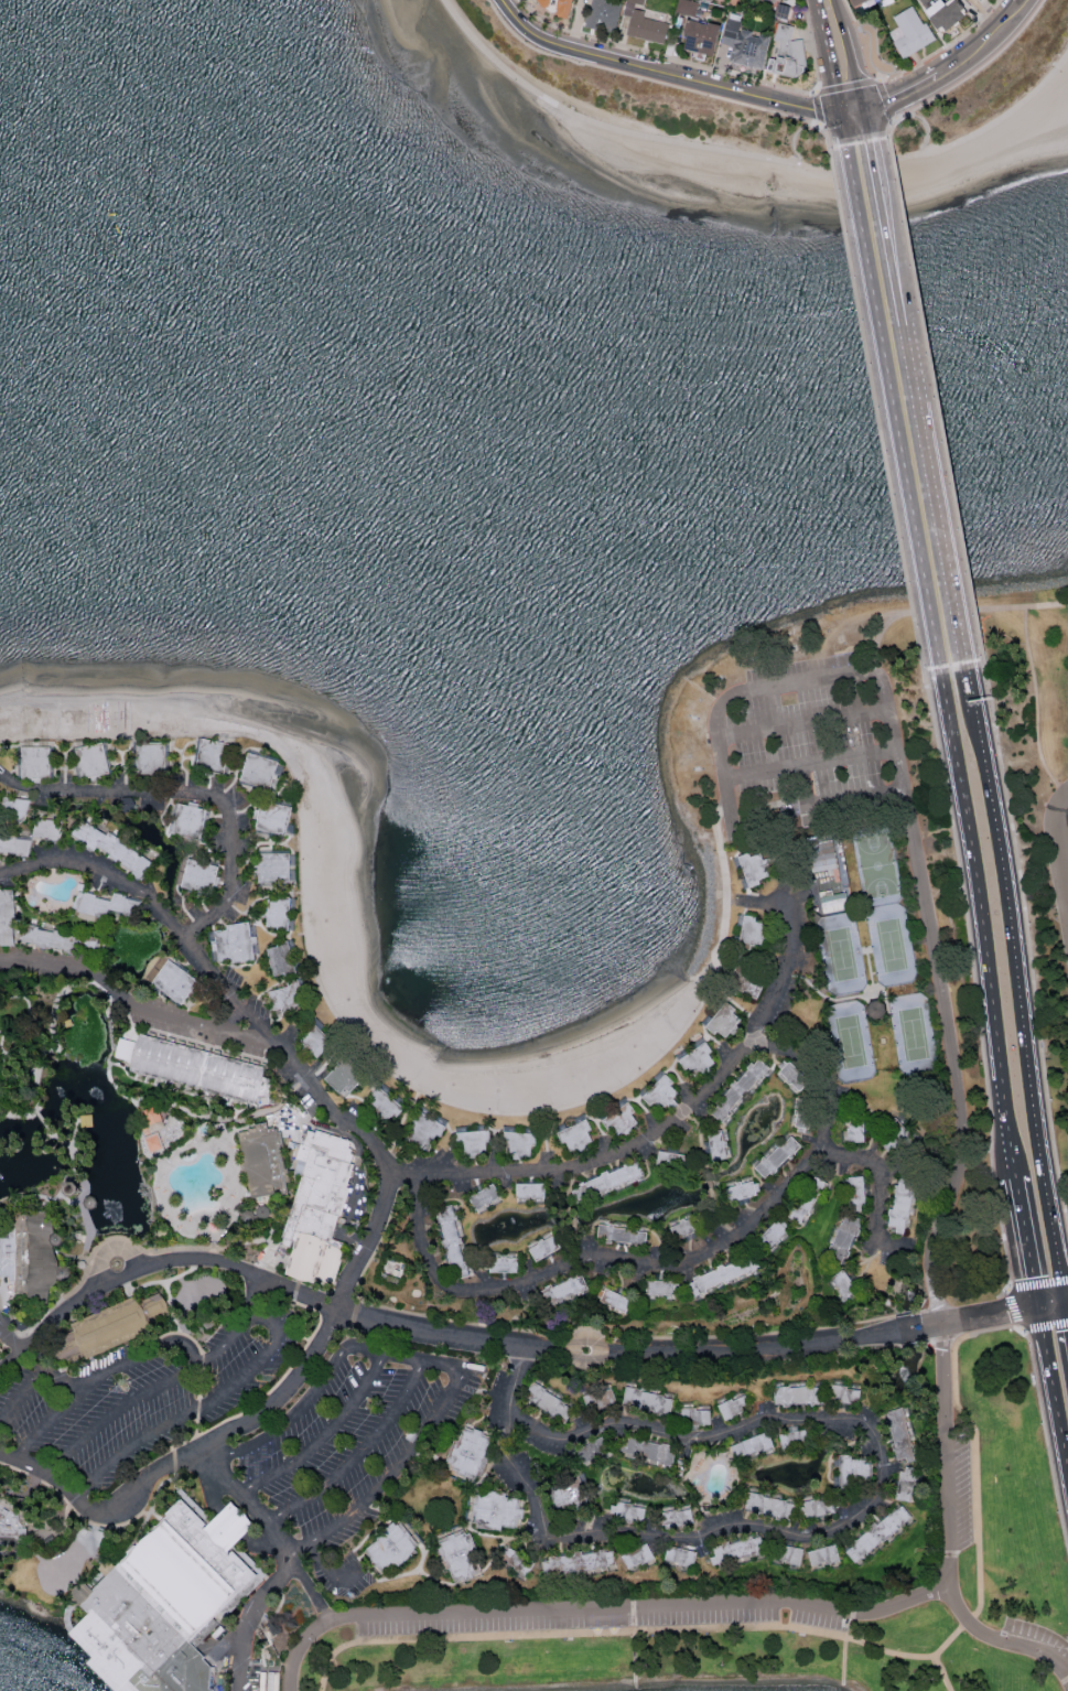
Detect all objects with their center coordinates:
building: (776, 0)
building: (540, 1)
building: (854, 1)
building: (686, 7)
building: (560, 8)
building: (940, 12)
building: (602, 13)
building: (643, 23)
building: (908, 31)
building: (698, 36)
building: (743, 44)
building: (786, 52)
road: (852, 53)
road: (827, 54)
road: (953, 64)
road: (661, 74)
road: (638, 76)
road: (851, 84)
road: (854, 108)
traffic signals: (866, 108)
traffic signals: (842, 109)
road: (870, 120)
road: (894, 120)
road: (844, 121)
road: (826, 130)
road: (749, 153)
road: (893, 231)
road: (895, 403)
road: (942, 498)
road: (952, 611)
park: (1046, 671)
road: (975, 685)
road: (1038, 703)
road: (805, 722)
parking lot: (809, 745)
building: (215, 757)
building: (152, 758)
building: (94, 762)
building: (36, 763)
road: (812, 764)
building: (261, 772)
road: (188, 795)
road: (1065, 798)
building: (15, 809)
building: (276, 819)
building: (191, 822)
building: (32, 838)
road: (1060, 846)
building: (121, 853)
road: (916, 855)
road: (85, 865)
park: (878, 868)
building: (276, 869)
building: (753, 870)
park: (828, 876)
building: (201, 879)
road: (759, 903)
building: (107, 905)
building: (279, 915)
building: (8, 918)
road: (173, 924)
road: (984, 927)
building: (751, 935)
building: (63, 941)
building: (237, 944)
park: (893, 947)
park: (843, 955)
building: (283, 961)
road: (47, 967)
road: (873, 978)
building: (173, 981)
building: (747, 981)
road: (109, 987)
building: (290, 1000)
road: (1023, 1002)
building: (875, 1012)
road: (887, 1014)
road: (196, 1022)
building: (723, 1022)
park: (915, 1036)
building: (317, 1040)
park: (852, 1043)
park: (884, 1043)
road: (285, 1059)
building: (697, 1060)
building: (197, 1068)
building: (347, 1078)
building: (794, 1078)
building: (740, 1091)
building: (664, 1092)
building: (386, 1106)
building: (805, 1116)
building: (152, 1117)
building: (623, 1120)
road: (403, 1128)
building: (424, 1131)
road: (660, 1131)
building: (856, 1131)
building: (579, 1137)
building: (897, 1140)
building: (151, 1141)
building: (474, 1143)
building: (521, 1143)
building: (718, 1148)
building: (777, 1160)
building: (266, 1161)
building: (675, 1161)
building: (609, 1183)
road: (883, 1188)
building: (75, 1189)
building: (532, 1192)
building: (741, 1192)
building: (855, 1195)
building: (486, 1197)
building: (808, 1202)
building: (902, 1205)
building: (321, 1210)
building: (688, 1229)
building: (625, 1237)
building: (772, 1237)
building: (843, 1240)
building: (454, 1242)
road: (1027, 1243)
building: (547, 1249)
road: (112, 1250)
building: (28, 1257)
road: (671, 1264)
fountain: (118, 1265)
building: (505, 1265)
building: (723, 1277)
road: (273, 1283)
building: (845, 1289)
building: (664, 1290)
building: (565, 1291)
road: (252, 1296)
road: (1066, 1301)
building: (617, 1302)
traffic signals: (1064, 1302)
road: (1056, 1303)
road: (1043, 1305)
traffic signals: (1036, 1306)
road: (1066, 1313)
road: (989, 1316)
parking lot: (4, 1318)
road: (273, 1322)
building: (112, 1328)
road: (13, 1340)
road: (590, 1342)
road: (784, 1349)
road: (375, 1354)
road: (589, 1360)
road: (10, 1363)
road: (51, 1374)
road: (105, 1376)
road: (1051, 1383)
road: (290, 1389)
parking lot: (148, 1392)
road: (484, 1392)
road: (21, 1393)
building: (844, 1396)
building: (799, 1397)
building: (601, 1401)
building: (651, 1401)
building: (551, 1403)
building: (734, 1409)
building: (694, 1418)
building: (900, 1434)
building: (798, 1440)
road: (371, 1442)
building: (757, 1444)
parking lot: (357, 1447)
building: (598, 1448)
building: (652, 1451)
building: (471, 1452)
building: (738, 1452)
road: (401, 1463)
road: (51, 1475)
building: (853, 1476)
building: (907, 1484)
road: (946, 1489)
parking lot: (958, 1489)
building: (568, 1491)
road: (249, 1504)
building: (772, 1509)
building: (817, 1510)
building: (500, 1511)
building: (630, 1512)
building: (677, 1519)
building: (10, 1521)
road: (843, 1529)
building: (877, 1536)
road: (80, 1548)
building: (392, 1548)
building: (737, 1552)
building: (461, 1554)
building: (788, 1555)
building: (640, 1557)
building: (824, 1557)
building: (682, 1558)
building: (519, 1561)
building: (580, 1563)
road: (327, 1566)
road: (311, 1592)
park: (778, 1594)
building: (168, 1604)
road: (641, 1607)
parking lot: (602, 1615)
road: (251, 1620)
road: (795, 1628)
parking lot: (1035, 1647)
road: (299, 1649)
road: (1032, 1651)
road: (941, 1674)

